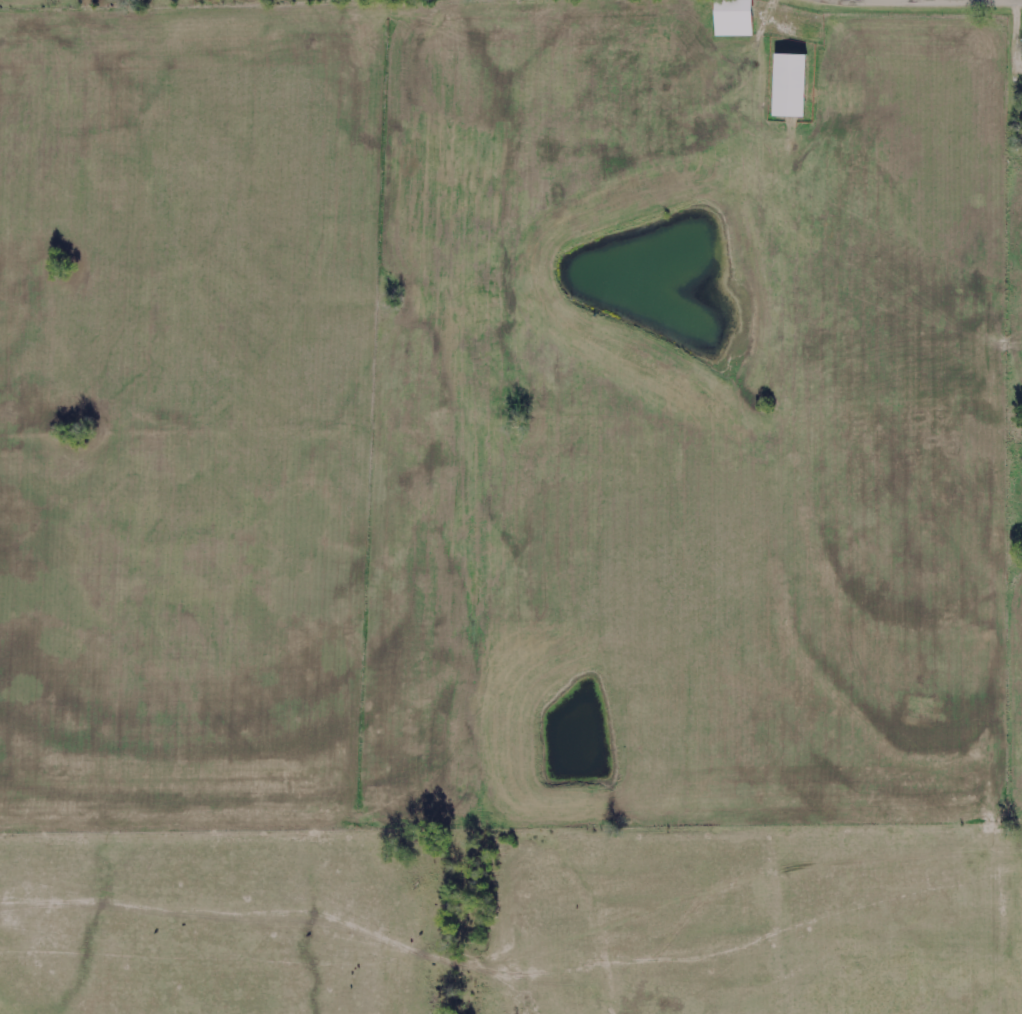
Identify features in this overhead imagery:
road: (939, 1)
building: (789, 84)

